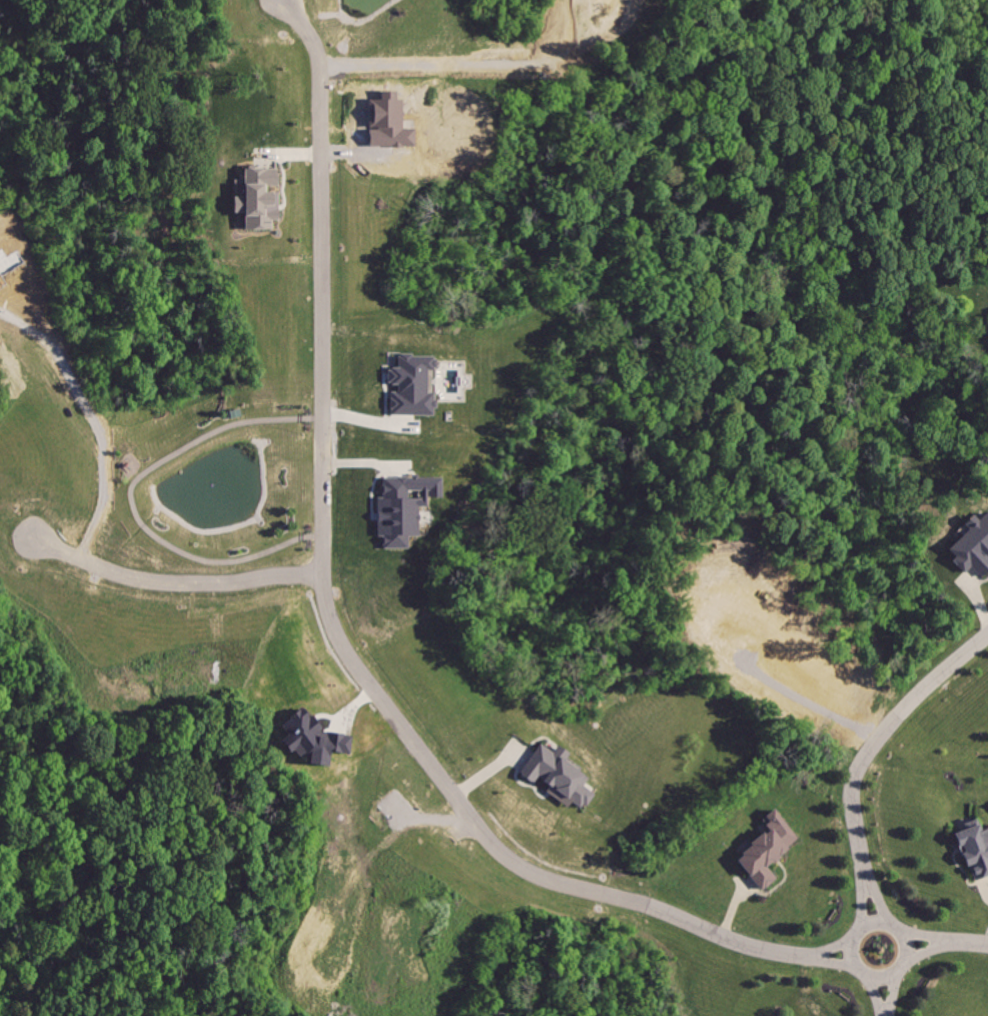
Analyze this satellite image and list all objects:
building: (256, 199)
building: (411, 386)
road: (88, 423)
building: (402, 508)
road: (320, 525)
building: (972, 547)
road: (172, 585)
road: (882, 733)
building: (311, 741)
building: (556, 775)
building: (974, 849)
building: (766, 851)
road: (866, 896)
road: (880, 899)
road: (721, 934)
road: (929, 936)
road: (971, 943)
road: (836, 946)
road: (930, 950)
road: (834, 959)
road: (886, 973)
road: (894, 991)
road: (876, 992)
building: (779, 1015)

